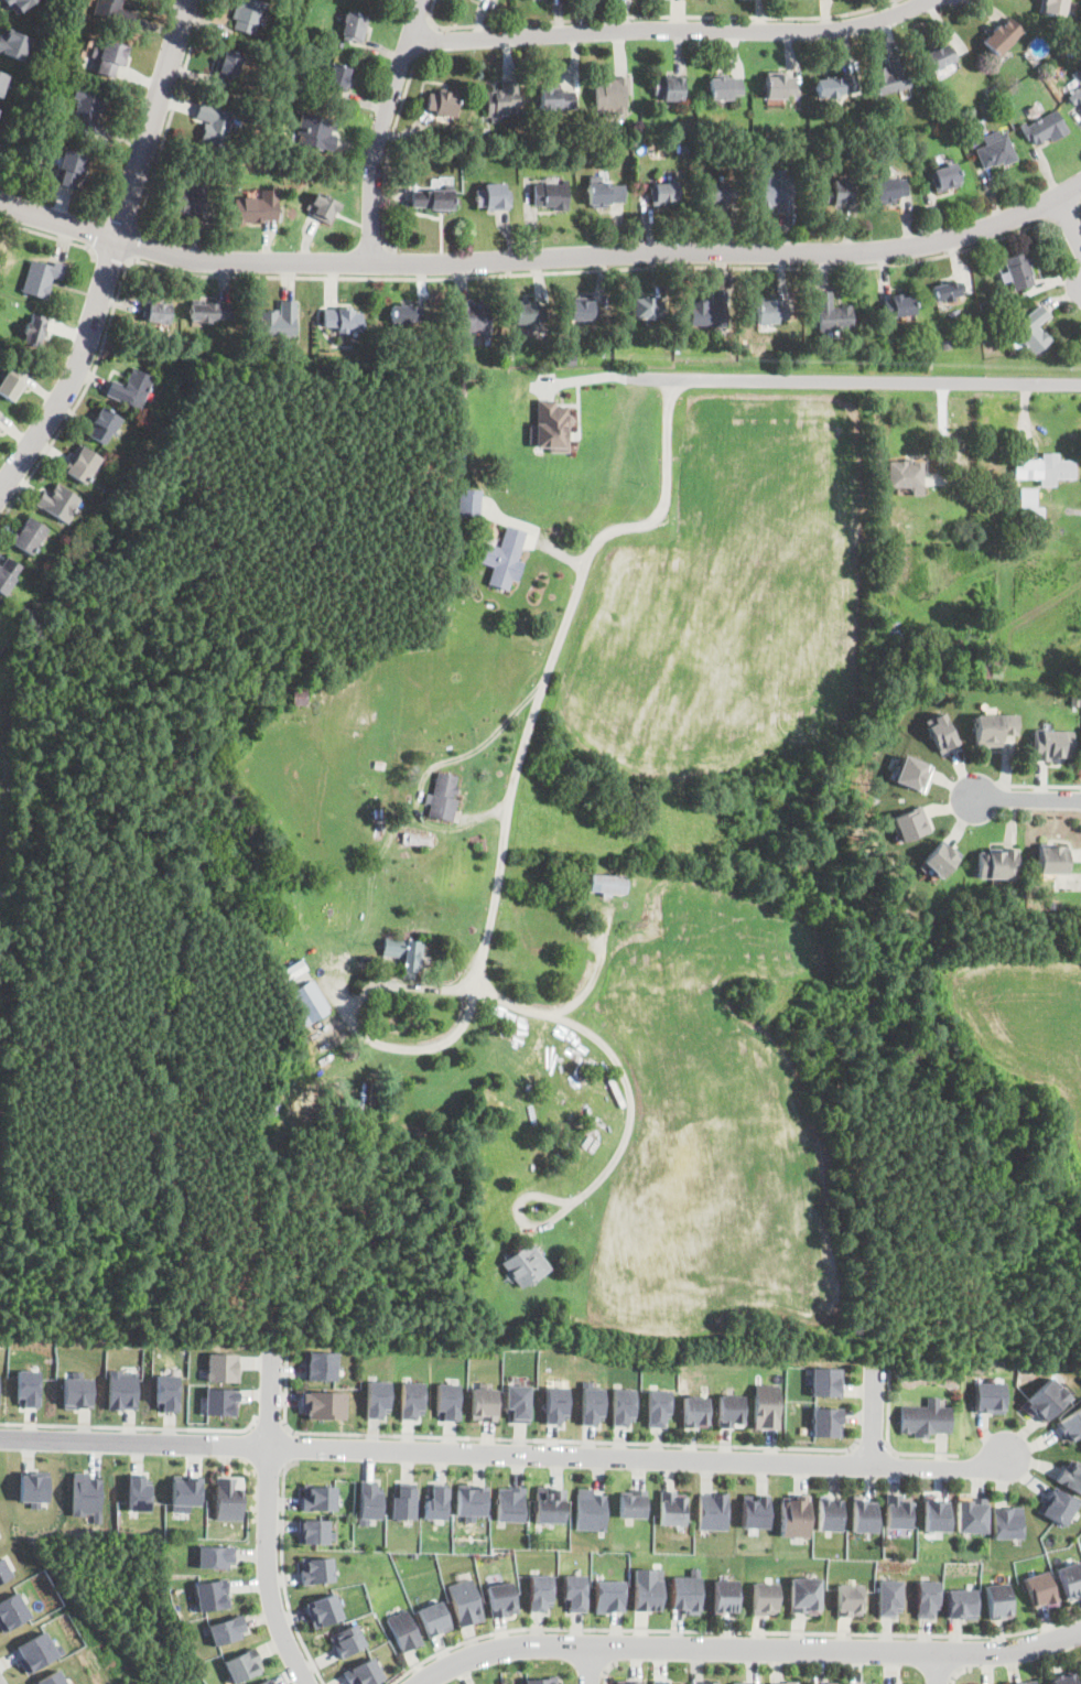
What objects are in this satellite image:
building: (20, 4)
building: (1055, 8)
building: (113, 11)
building: (247, 14)
road: (652, 18)
building: (354, 28)
road: (671, 30)
building: (1003, 36)
road: (425, 39)
building: (14, 42)
building: (1066, 43)
building: (1072, 51)
building: (110, 57)
building: (941, 57)
building: (228, 65)
building: (336, 77)
building: (890, 77)
building: (1077, 77)
building: (2, 80)
building: (779, 86)
building: (835, 86)
building: (670, 88)
building: (725, 88)
building: (991, 93)
building: (612, 96)
building: (1074, 96)
building: (1001, 98)
building: (555, 99)
building: (502, 100)
building: (442, 105)
building: (985, 107)
building: (86, 112)
road: (171, 116)
building: (214, 123)
building: (1045, 128)
road: (382, 129)
building: (316, 131)
building: (801, 132)
building: (911, 134)
building: (800, 144)
building: (683, 147)
building: (995, 151)
road: (388, 153)
building: (582, 154)
building: (73, 168)
building: (408, 175)
building: (945, 177)
building: (889, 190)
building: (776, 191)
building: (839, 193)
building: (663, 194)
building: (720, 194)
building: (604, 195)
building: (551, 196)
building: (191, 197)
building: (493, 197)
building: (432, 199)
building: (257, 208)
building: (324, 208)
road: (1064, 213)
road: (1070, 219)
road: (58, 222)
road: (52, 237)
road: (133, 246)
road: (112, 253)
road: (604, 255)
road: (110, 259)
road: (389, 263)
building: (1018, 269)
building: (41, 278)
road: (444, 278)
building: (945, 291)
building: (898, 306)
building: (647, 307)
building: (209, 311)
building: (583, 311)
building: (710, 311)
building: (770, 311)
building: (158, 312)
building: (528, 313)
building: (406, 314)
building: (832, 316)
building: (473, 319)
building: (342, 320)
building: (278, 321)
building: (34, 331)
building: (1031, 331)
building: (945, 344)
building: (507, 354)
building: (116, 355)
building: (570, 359)
road: (609, 375)
road: (875, 382)
building: (12, 384)
building: (131, 389)
building: (0, 410)
building: (0, 413)
building: (104, 424)
building: (550, 425)
building: (0, 427)
building: (0, 429)
building: (460, 453)
building: (82, 465)
building: (458, 467)
building: (1044, 468)
building: (904, 475)
building: (469, 501)
building: (58, 503)
building: (1027, 505)
building: (886, 528)
building: (28, 536)
building: (504, 558)
building: (8, 575)
road: (561, 629)
building: (893, 629)
building: (10, 662)
building: (992, 668)
building: (1074, 700)
building: (299, 703)
building: (994, 727)
building: (943, 732)
building: (1052, 744)
building: (379, 765)
building: (915, 773)
road: (1044, 786)
road: (1027, 796)
building: (443, 798)
building: (914, 823)
building: (417, 839)
building: (940, 859)
building: (1052, 859)
building: (998, 863)
building: (607, 884)
building: (891, 896)
road: (8, 899)
building: (403, 952)
building: (293, 969)
building: (310, 1002)
road: (355, 1027)
road: (609, 1050)
building: (1, 1152)
building: (526, 1265)
building: (549, 1323)
building: (318, 1364)
building: (224, 1367)
building: (828, 1381)
building: (29, 1386)
building: (122, 1390)
building: (167, 1391)
building: (78, 1392)
building: (991, 1397)
building: (377, 1399)
building: (411, 1399)
building: (447, 1400)
building: (1045, 1400)
building: (221, 1401)
building: (484, 1402)
building: (518, 1402)
building: (592, 1403)
building: (323, 1404)
building: (556, 1404)
building: (624, 1406)
building: (767, 1406)
building: (659, 1407)
building: (731, 1410)
building: (695, 1411)
road: (872, 1417)
building: (926, 1418)
building: (826, 1422)
road: (271, 1424)
building: (1071, 1424)
road: (131, 1427)
road: (538, 1440)
road: (888, 1444)
road: (873, 1445)
road: (293, 1448)
road: (507, 1454)
building: (1071, 1476)
building: (35, 1488)
building: (185, 1491)
building: (139, 1492)
building: (87, 1496)
building: (229, 1497)
building: (318, 1497)
building: (471, 1500)
building: (369, 1501)
building: (404, 1501)
building: (436, 1501)
building: (631, 1502)
building: (510, 1503)
building: (549, 1504)
building: (1058, 1505)
building: (670, 1507)
building: (588, 1509)
building: (755, 1510)
building: (712, 1511)
building: (897, 1511)
building: (829, 1513)
building: (936, 1513)
building: (863, 1514)
building: (971, 1514)
building: (793, 1515)
road: (268, 1522)
building: (1007, 1522)
building: (314, 1531)
building: (215, 1556)
building: (316, 1569)
building: (4, 1570)
road: (283, 1574)
building: (1071, 1579)
building: (647, 1588)
building: (1041, 1589)
building: (539, 1591)
building: (574, 1591)
building: (685, 1591)
building: (212, 1595)
building: (724, 1595)
building: (804, 1595)
building: (608, 1596)
building: (889, 1597)
building: (765, 1598)
building: (927, 1598)
building: (501, 1599)
building: (850, 1599)
building: (998, 1600)
building: (466, 1602)
building: (962, 1602)
building: (324, 1610)
building: (12, 1611)
building: (435, 1618)
building: (227, 1629)
building: (404, 1630)
road: (733, 1632)
building: (348, 1640)
road: (614, 1647)
road: (747, 1650)
building: (36, 1651)
road: (966, 1653)
building: (244, 1664)
road: (591, 1665)
road: (938, 1669)
road: (606, 1671)
building: (365, 1673)
road: (961, 1674)
building: (52, 1677)
building: (1062, 1678)
building: (542, 1680)
building: (661, 1681)
building: (266, 1682)
building: (629, 1682)
building: (706, 1682)
building: (743, 1682)
building: (791, 1682)
building: (774, 1683)
building: (826, 1683)
building: (862, 1683)
building: (1023, 1683)
building: (1035, 1683)

